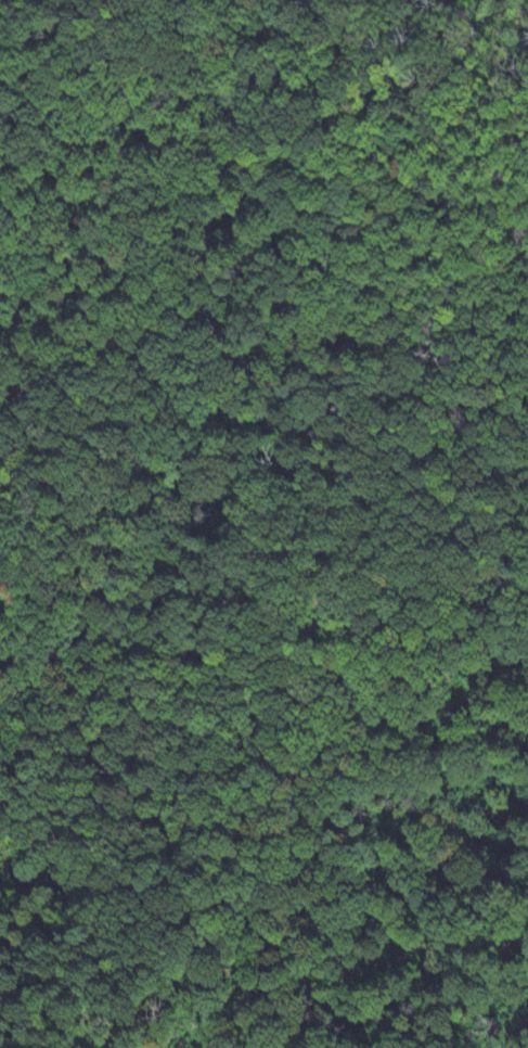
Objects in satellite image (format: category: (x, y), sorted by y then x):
park: (265, 524)

